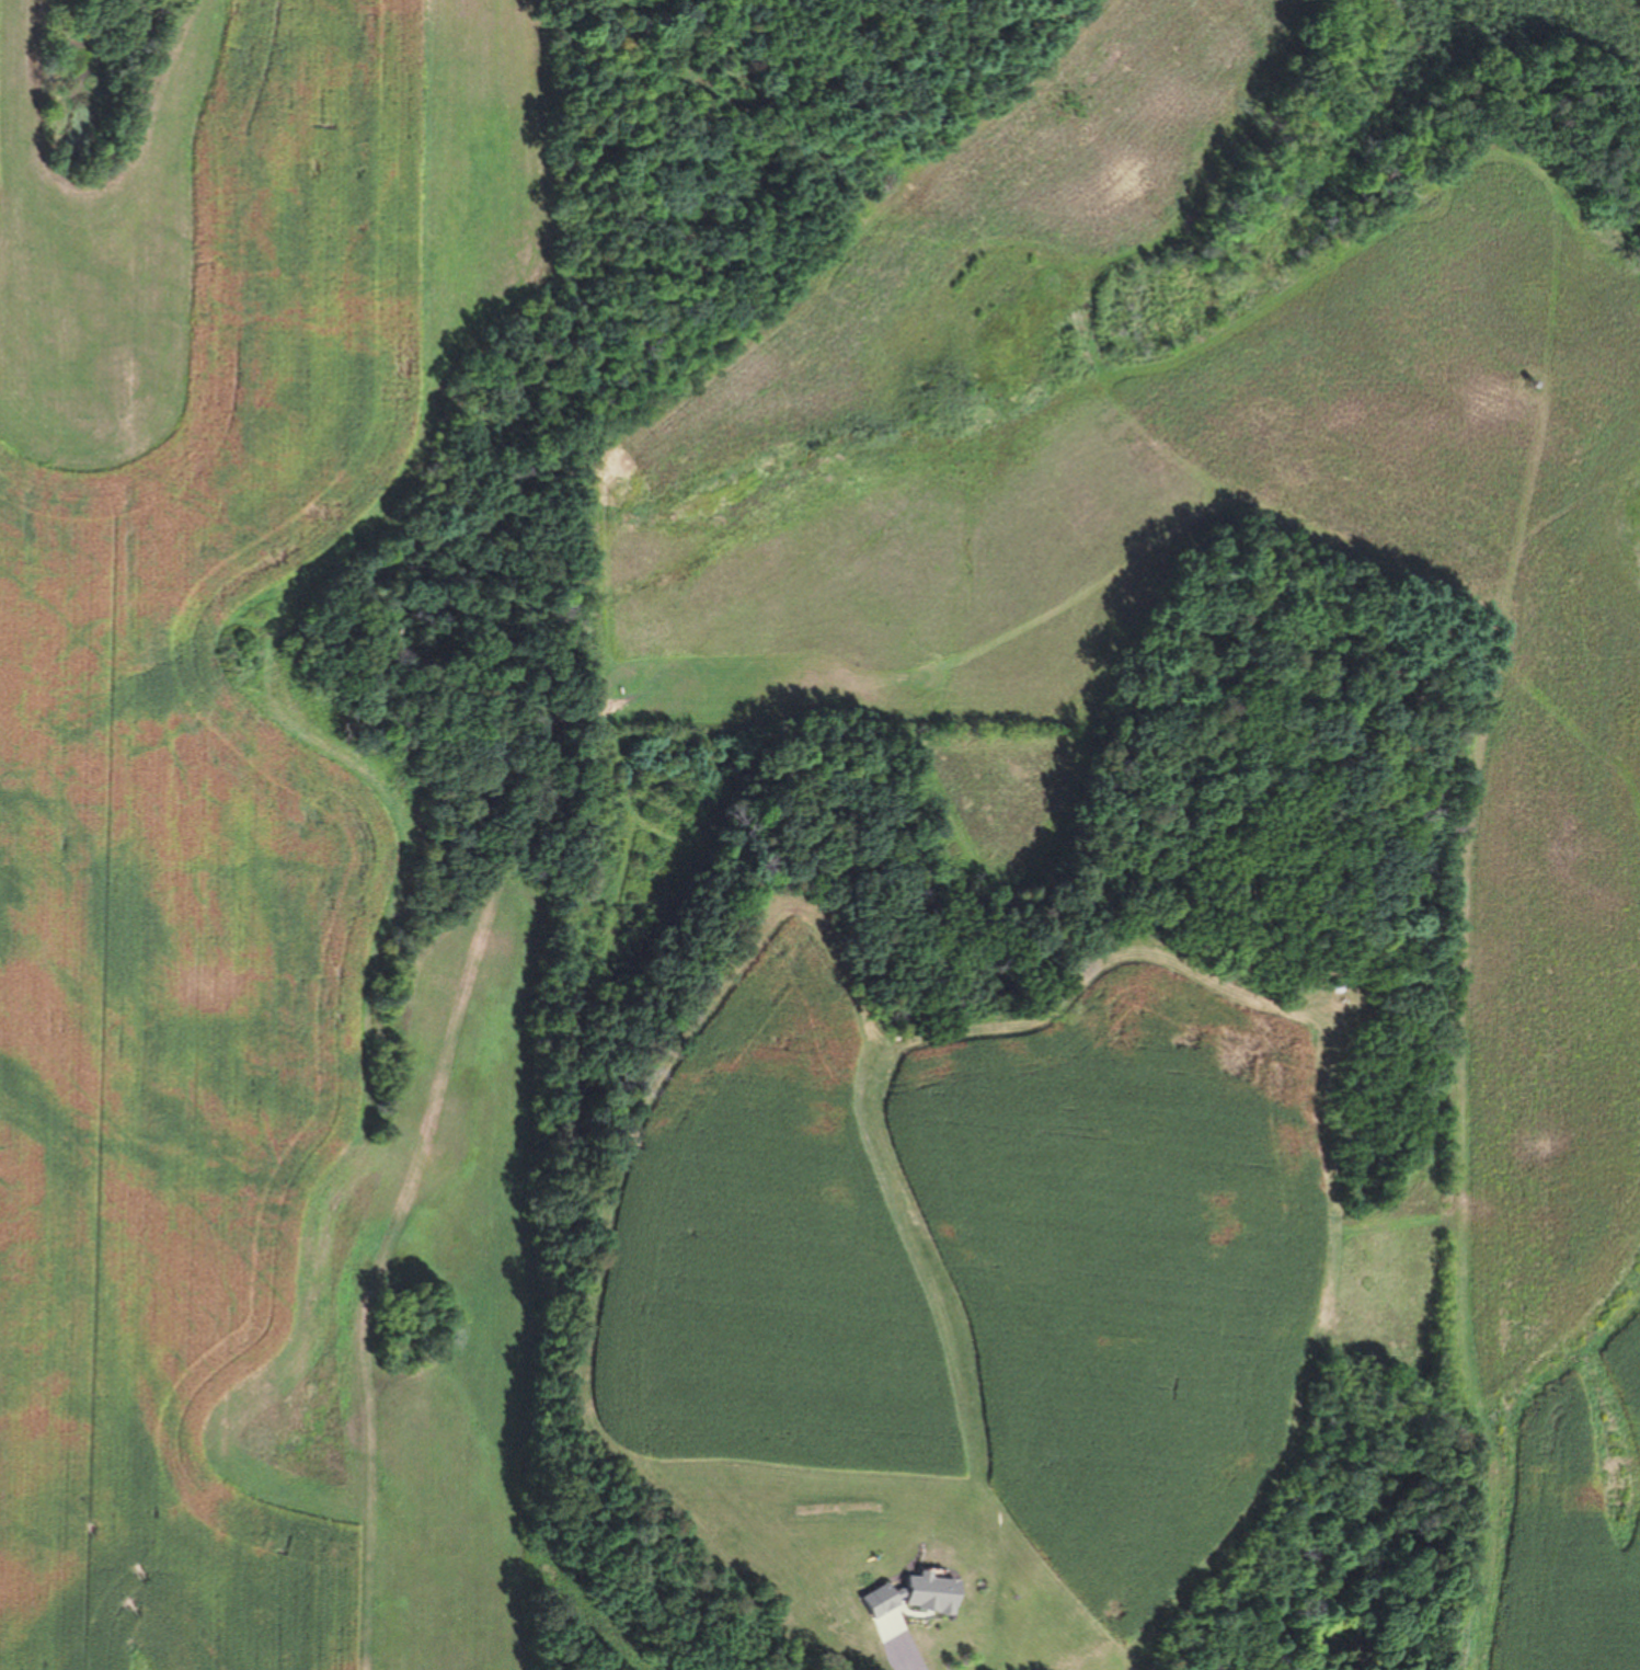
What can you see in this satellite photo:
road: (908, 1661)

